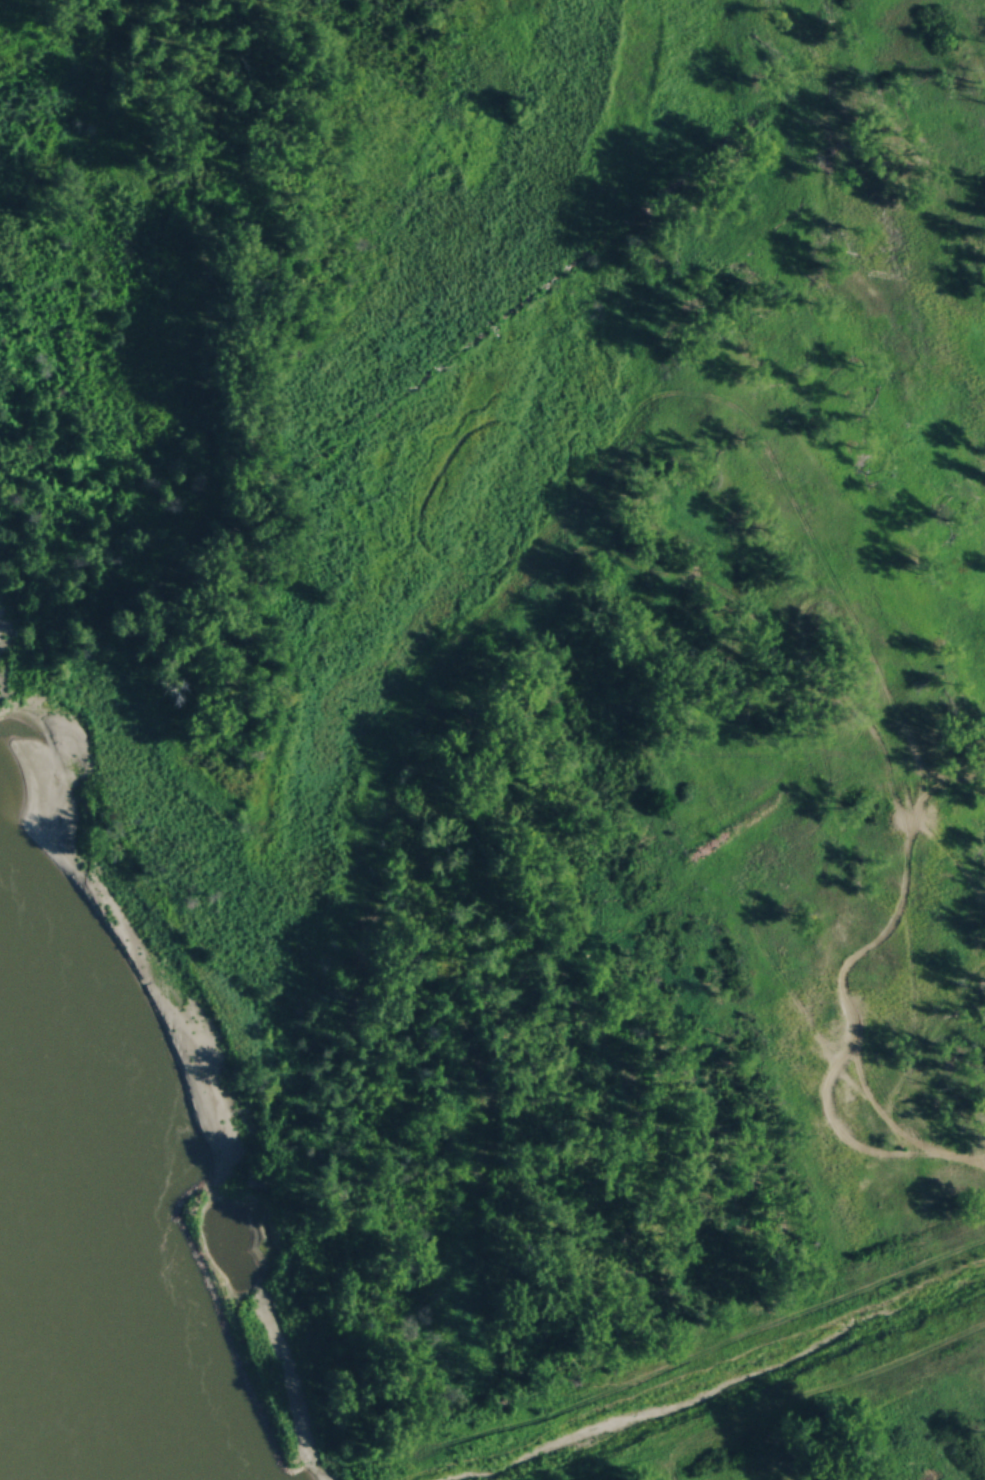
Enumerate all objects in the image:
river: (33, 1401)

